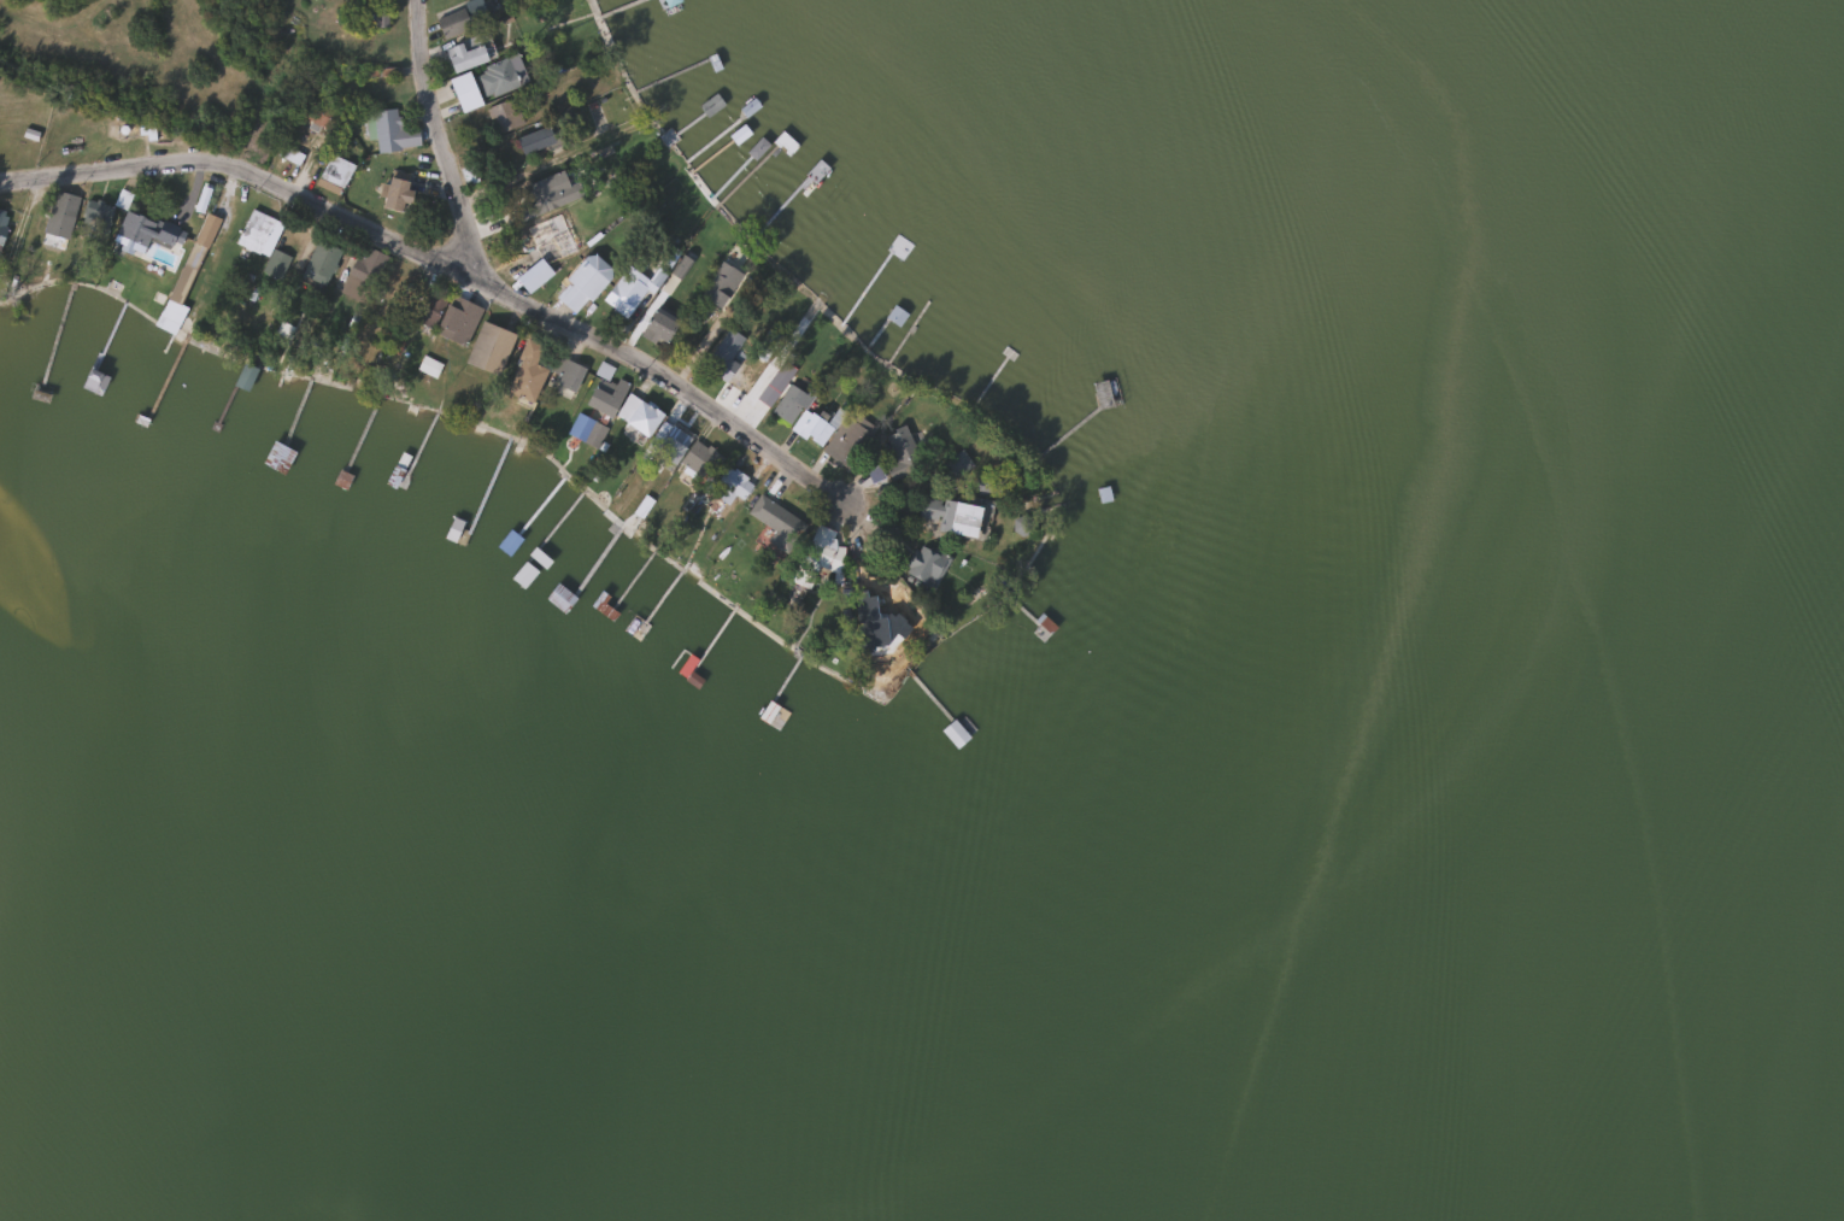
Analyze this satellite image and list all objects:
building: (666, 1)
building: (372, 14)
building: (459, 17)
building: (468, 52)
building: (494, 78)
building: (505, 115)
building: (321, 116)
river: (1702, 119)
building: (382, 130)
road: (437, 139)
building: (534, 140)
building: (335, 171)
building: (544, 192)
building: (394, 193)
building: (2, 223)
building: (55, 227)
building: (133, 229)
building: (253, 230)
building: (554, 236)
building: (318, 260)
road: (444, 265)
building: (362, 274)
building: (582, 282)
building: (720, 284)
building: (624, 292)
building: (457, 321)
building: (165, 322)
building: (657, 328)
building: (764, 345)
building: (488, 347)
building: (717, 364)
building: (527, 371)
building: (603, 372)
building: (568, 375)
building: (243, 376)
building: (1102, 394)
building: (605, 397)
building: (788, 403)
building: (626, 407)
building: (810, 428)
building: (847, 440)
building: (666, 441)
building: (898, 460)
building: (955, 465)
building: (716, 472)
building: (986, 482)
building: (951, 516)
building: (774, 517)
building: (814, 557)
building: (924, 565)
building: (882, 611)
building: (683, 663)
building: (953, 733)
river: (1821, 1146)

